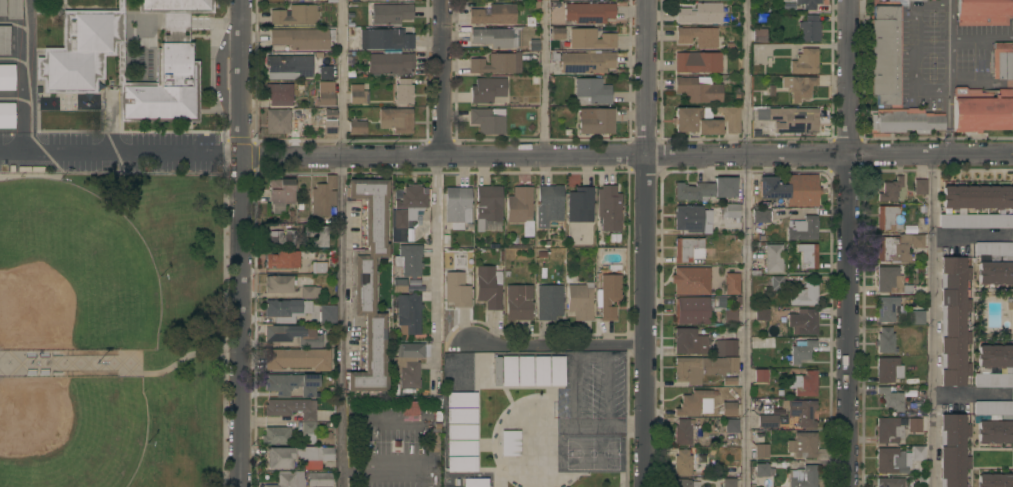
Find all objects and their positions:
building: (306, 0)
building: (364, 0)
building: (900, 1)
road: (947, 3)
building: (807, 4)
building: (2, 8)
building: (13, 9)
building: (588, 12)
building: (983, 12)
building: (390, 13)
building: (493, 14)
building: (698, 14)
building: (294, 15)
building: (809, 28)
building: (557, 33)
building: (758, 35)
building: (496, 37)
building: (699, 37)
building: (299, 38)
road: (980, 38)
building: (590, 39)
building: (4, 40)
road: (915, 47)
road: (947, 47)
building: (386, 50)
building: (758, 50)
building: (1001, 60)
building: (804, 61)
building: (586, 62)
building: (697, 62)
building: (493, 63)
building: (288, 67)
building: (69, 70)
building: (324, 72)
building: (891, 75)
building: (6, 77)
road: (339, 79)
road: (440, 79)
road: (541, 79)
building: (798, 86)
road: (22, 87)
building: (486, 89)
building: (697, 89)
building: (278, 91)
building: (591, 91)
building: (403, 92)
building: (325, 93)
building: (357, 94)
building: (981, 111)
building: (6, 115)
building: (688, 118)
building: (729, 118)
building: (789, 118)
building: (395, 119)
building: (282, 120)
building: (487, 120)
building: (329, 121)
building: (595, 121)
road: (947, 123)
building: (356, 126)
building: (708, 126)
road: (119, 149)
road: (626, 158)
building: (919, 187)
building: (772, 188)
building: (705, 189)
building: (890, 189)
building: (801, 190)
building: (280, 191)
building: (322, 197)
building: (549, 203)
building: (487, 205)
building: (579, 205)
building: (456, 206)
building: (975, 207)
building: (520, 208)
building: (608, 208)
building: (406, 211)
building: (729, 211)
building: (761, 216)
building: (885, 217)
building: (688, 218)
building: (803, 228)
road: (967, 232)
building: (316, 233)
building: (277, 239)
road: (239, 243)
road: (646, 243)
road: (748, 243)
road: (852, 243)
building: (897, 248)
building: (687, 249)
building: (807, 255)
building: (772, 258)
building: (287, 259)
building: (408, 260)
building: (993, 262)
building: (318, 267)
park: (71, 271)
road: (436, 274)
building: (888, 279)
building: (687, 280)
building: (730, 283)
building: (776, 283)
building: (278, 284)
building: (368, 285)
building: (398, 285)
building: (486, 288)
building: (456, 290)
building: (309, 292)
building: (803, 294)
building: (608, 296)
building: (518, 301)
building: (548, 301)
building: (579, 302)
building: (407, 308)
building: (886, 308)
building: (286, 310)
building: (691, 310)
building: (327, 314)
building: (761, 314)
building: (728, 316)
building: (916, 317)
building: (802, 321)
road: (929, 321)
road: (339, 322)
building: (952, 322)
park: (112, 330)
building: (293, 336)
building: (884, 340)
building: (689, 342)
road: (557, 343)
building: (800, 351)
road: (590, 356)
building: (297, 358)
road: (127, 363)
building: (408, 363)
building: (707, 363)
building: (993, 366)
building: (538, 369)
building: (887, 369)
building: (494, 370)
building: (507, 370)
building: (523, 370)
building: (554, 370)
building: (760, 375)
building: (728, 381)
building: (803, 383)
building: (291, 384)
parking lot: (590, 392)
building: (890, 397)
building: (459, 399)
building: (695, 402)
building: (291, 408)
building: (727, 408)
building: (410, 409)
building: (802, 411)
building: (459, 415)
building: (993, 420)
building: (767, 421)
road: (588, 424)
road: (626, 424)
building: (731, 425)
building: (914, 425)
building: (889, 429)
park: (70, 431)
building: (459, 431)
building: (684, 431)
building: (307, 432)
building: (275, 435)
building: (431, 442)
building: (509, 443)
building: (804, 444)
road: (411, 445)
building: (459, 447)
building: (952, 450)
park: (591, 451)
building: (761, 451)
building: (918, 453)
building: (298, 457)
building: (891, 460)
building: (682, 462)
building: (459, 463)
building: (761, 469)
building: (802, 477)
building: (286, 479)
building: (318, 479)
building: (993, 480)
building: (473, 482)
building: (728, 482)
building: (890, 482)
building: (686, 483)

